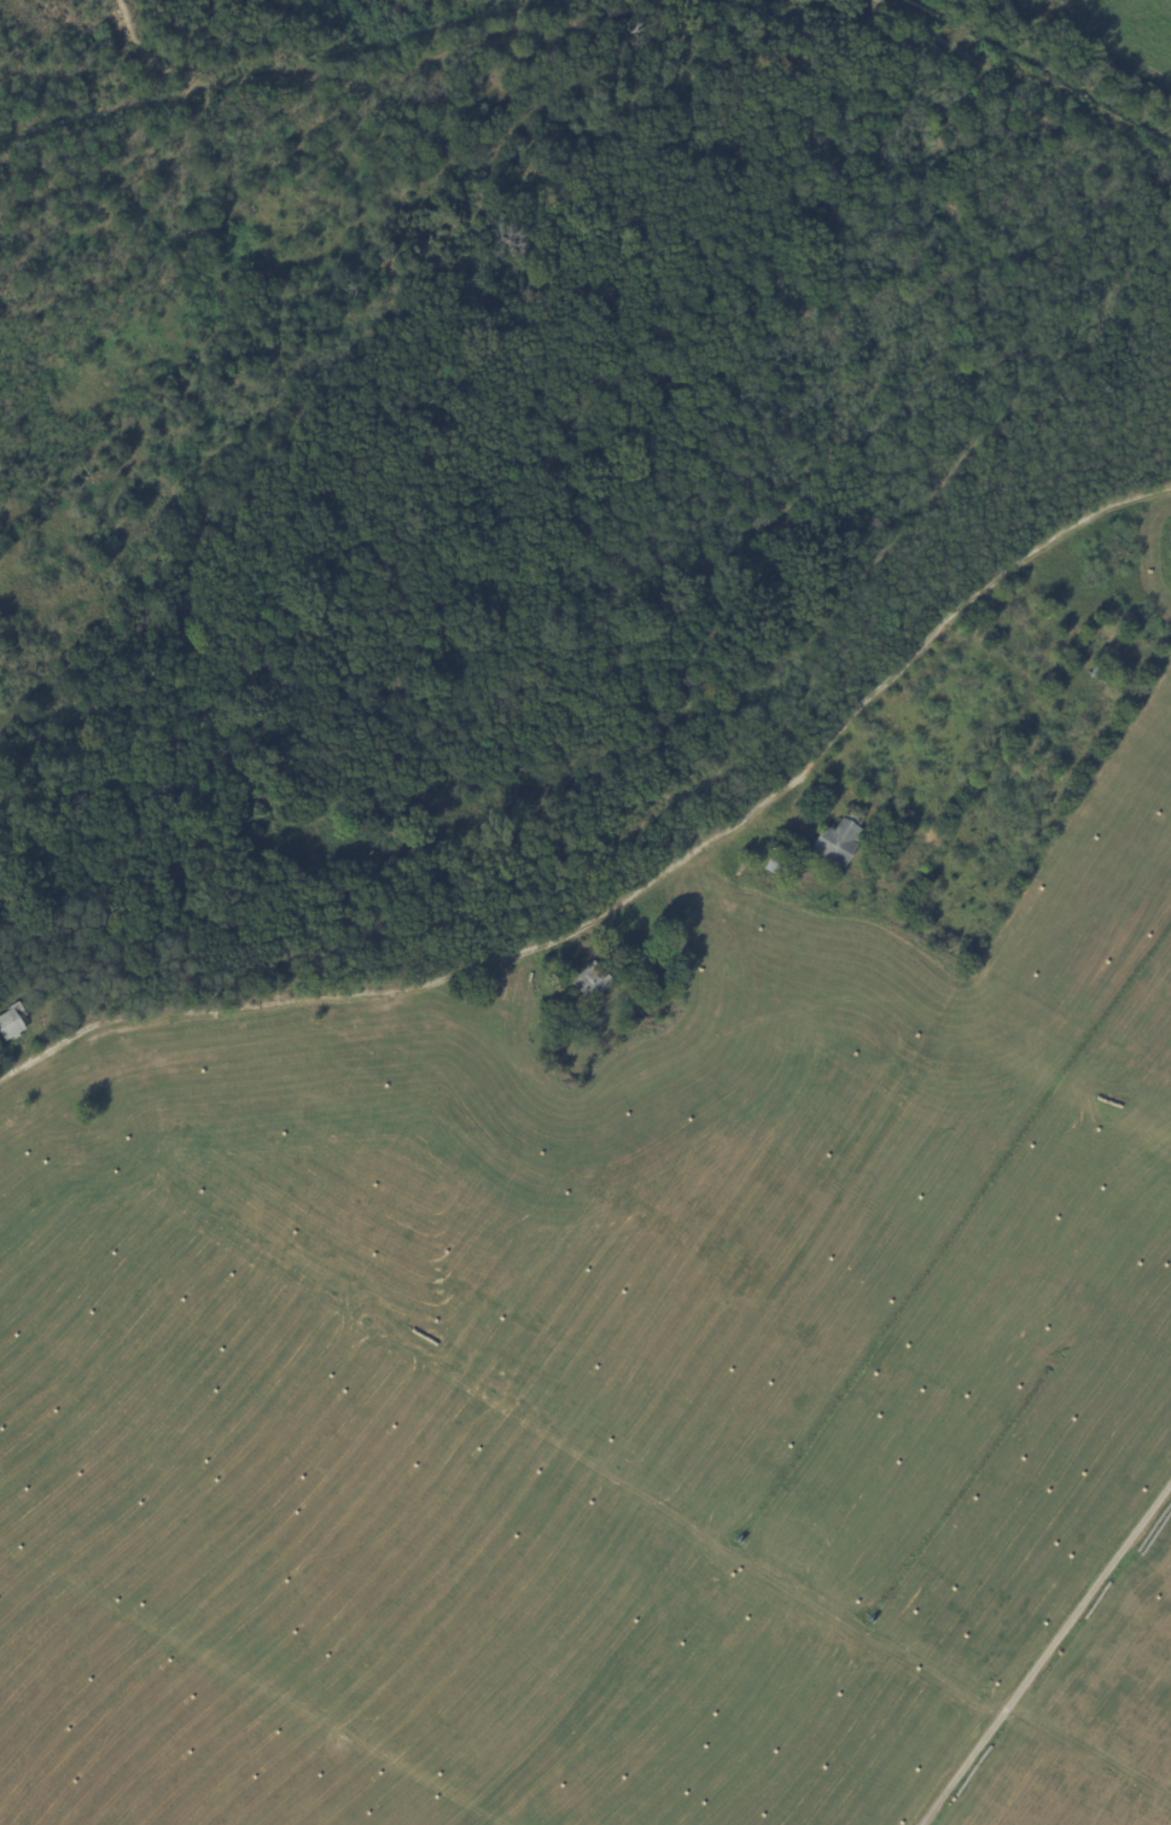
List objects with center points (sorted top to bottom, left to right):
road: (978, 21)
crop: (1113, 43)
road: (151, 53)
road: (1021, 82)
road: (328, 85)
building: (1102, 678)
building: (893, 827)
building: (841, 838)
building: (779, 865)
road: (633, 893)
building: (593, 982)
building: (71, 993)
building: (13, 1023)
building: (577, 1024)
crop: (633, 1426)

